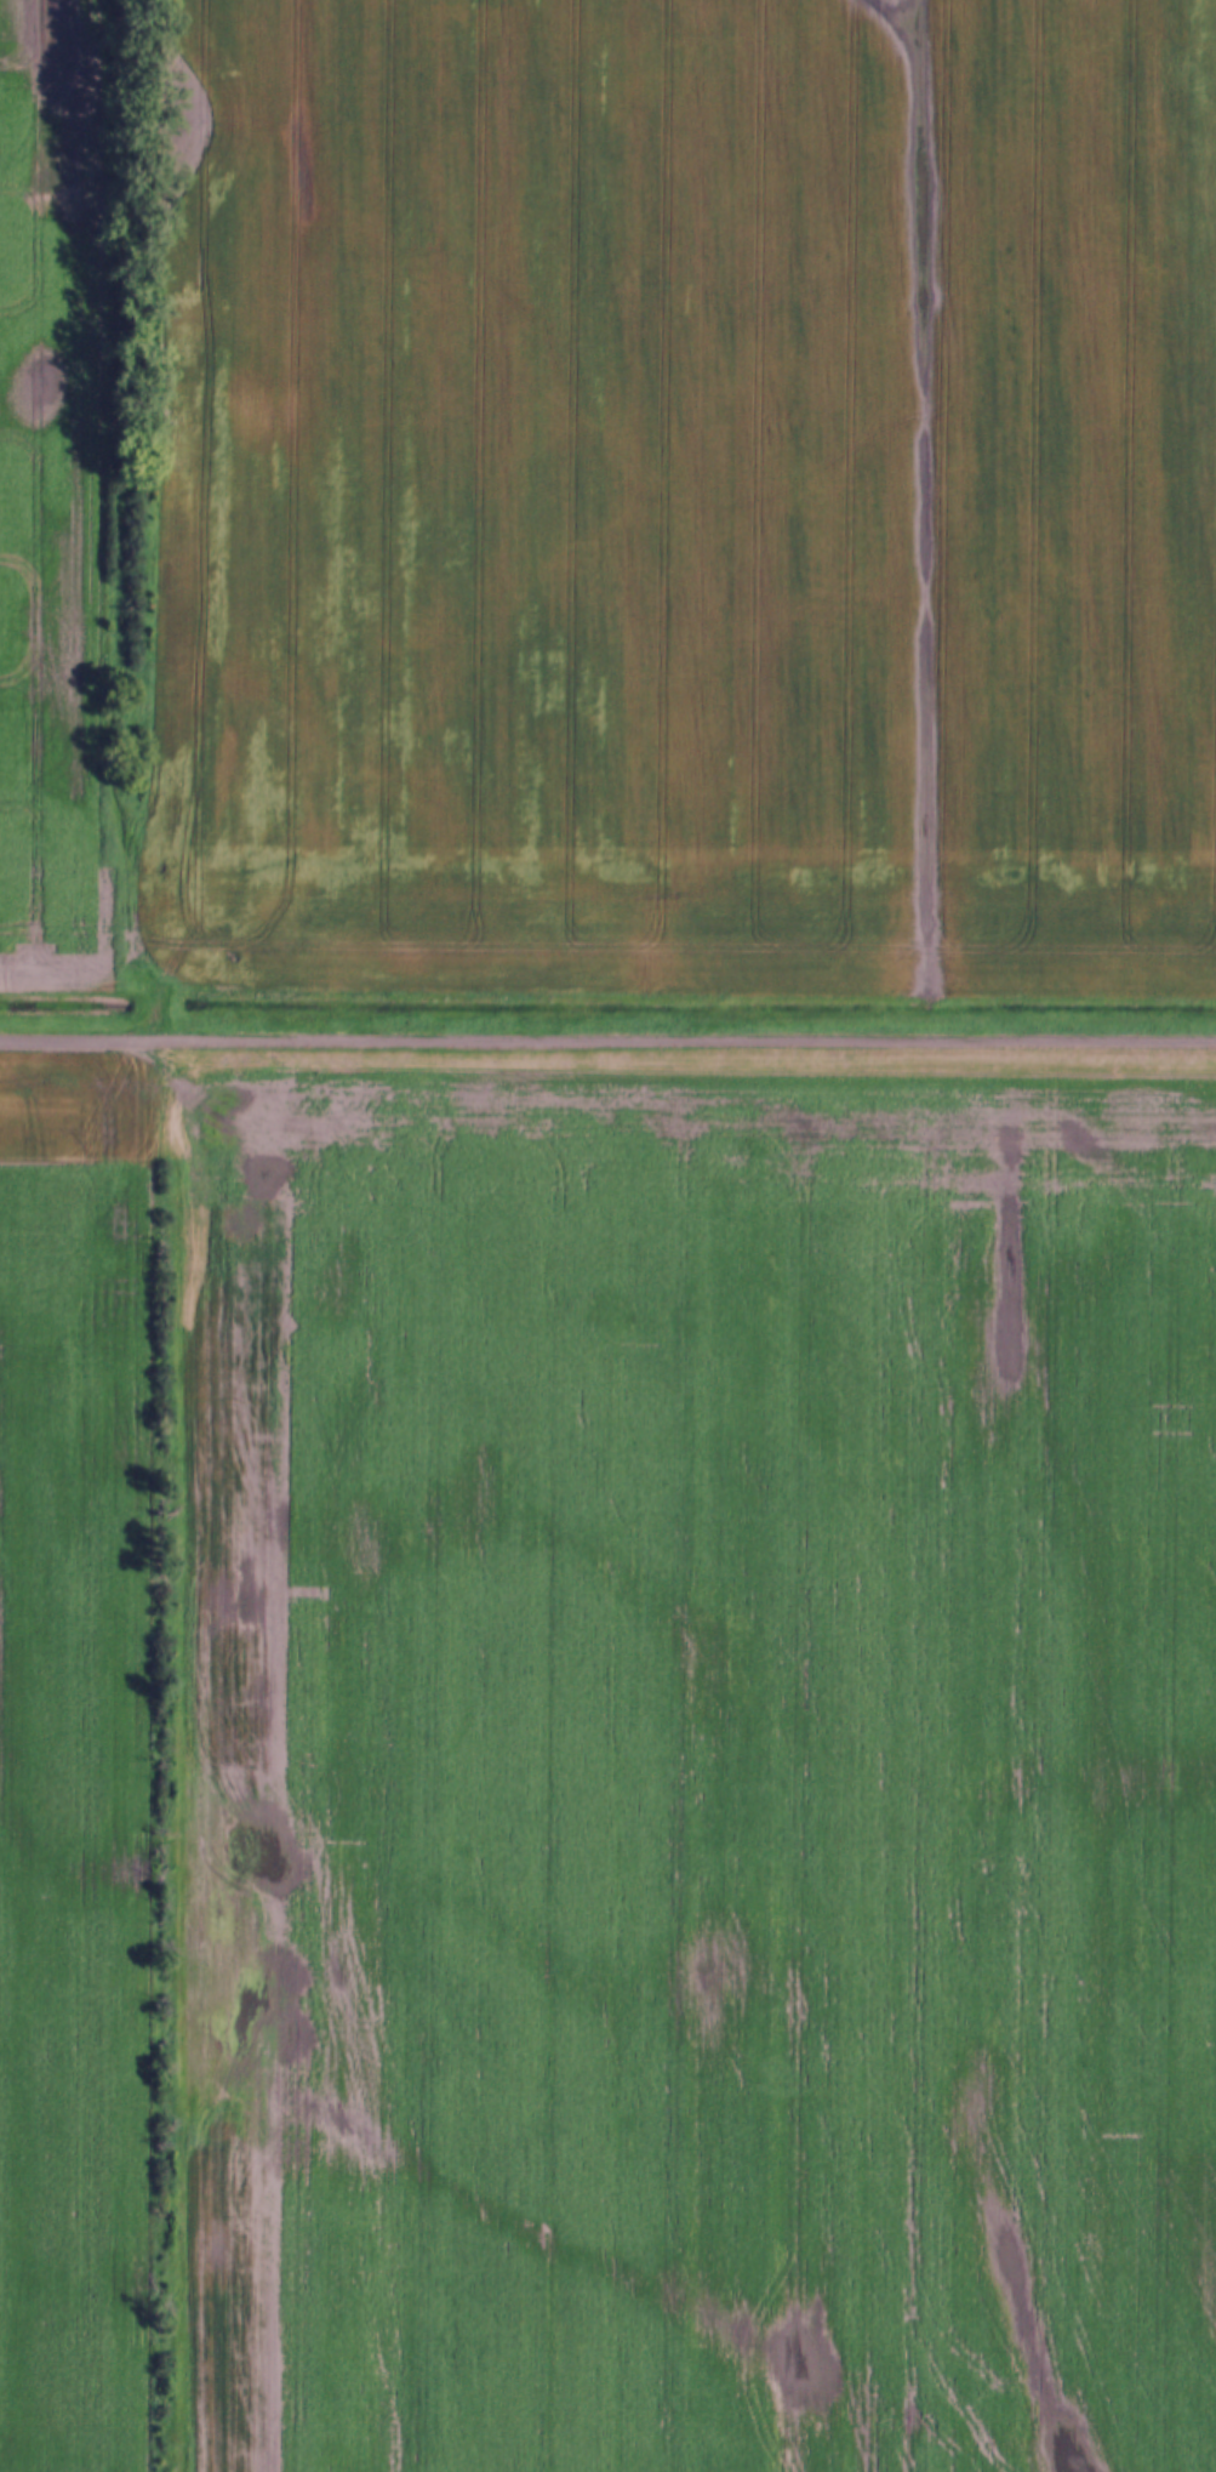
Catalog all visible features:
road: (607, 1044)

